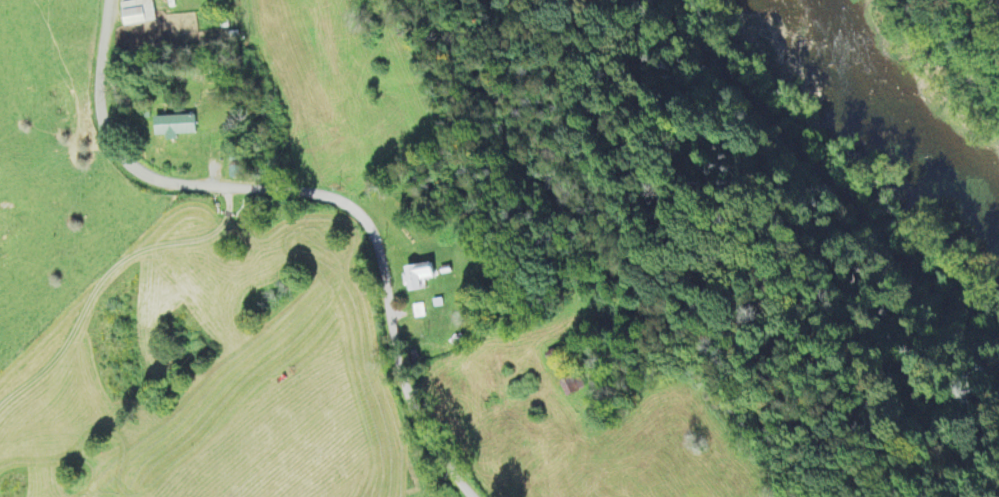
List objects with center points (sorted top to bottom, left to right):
building: (995, 8)
building: (136, 11)
river: (896, 114)
building: (173, 126)
road: (831, 164)
road: (312, 194)
building: (416, 277)
building: (417, 312)
building: (564, 376)

